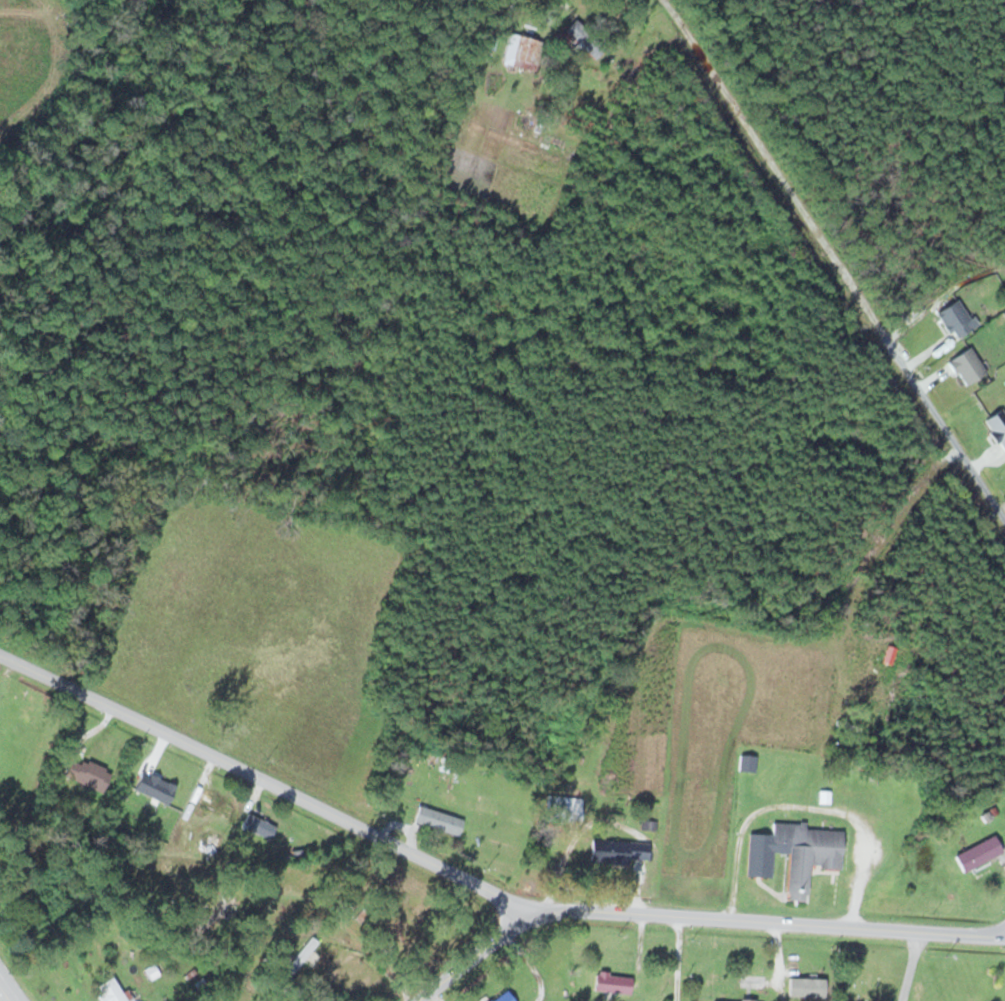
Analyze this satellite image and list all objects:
road: (263, 1)
building: (584, 37)
building: (528, 49)
road: (835, 255)
building: (747, 763)
building: (86, 773)
building: (212, 806)
building: (563, 809)
building: (438, 820)
building: (257, 827)
building: (209, 842)
building: (617, 851)
building: (794, 853)
building: (978, 854)
road: (480, 883)
building: (223, 904)
building: (390, 910)
road: (477, 954)
building: (298, 956)
building: (612, 983)
building: (806, 986)
building: (109, 992)
road: (3, 996)
building: (503, 997)

